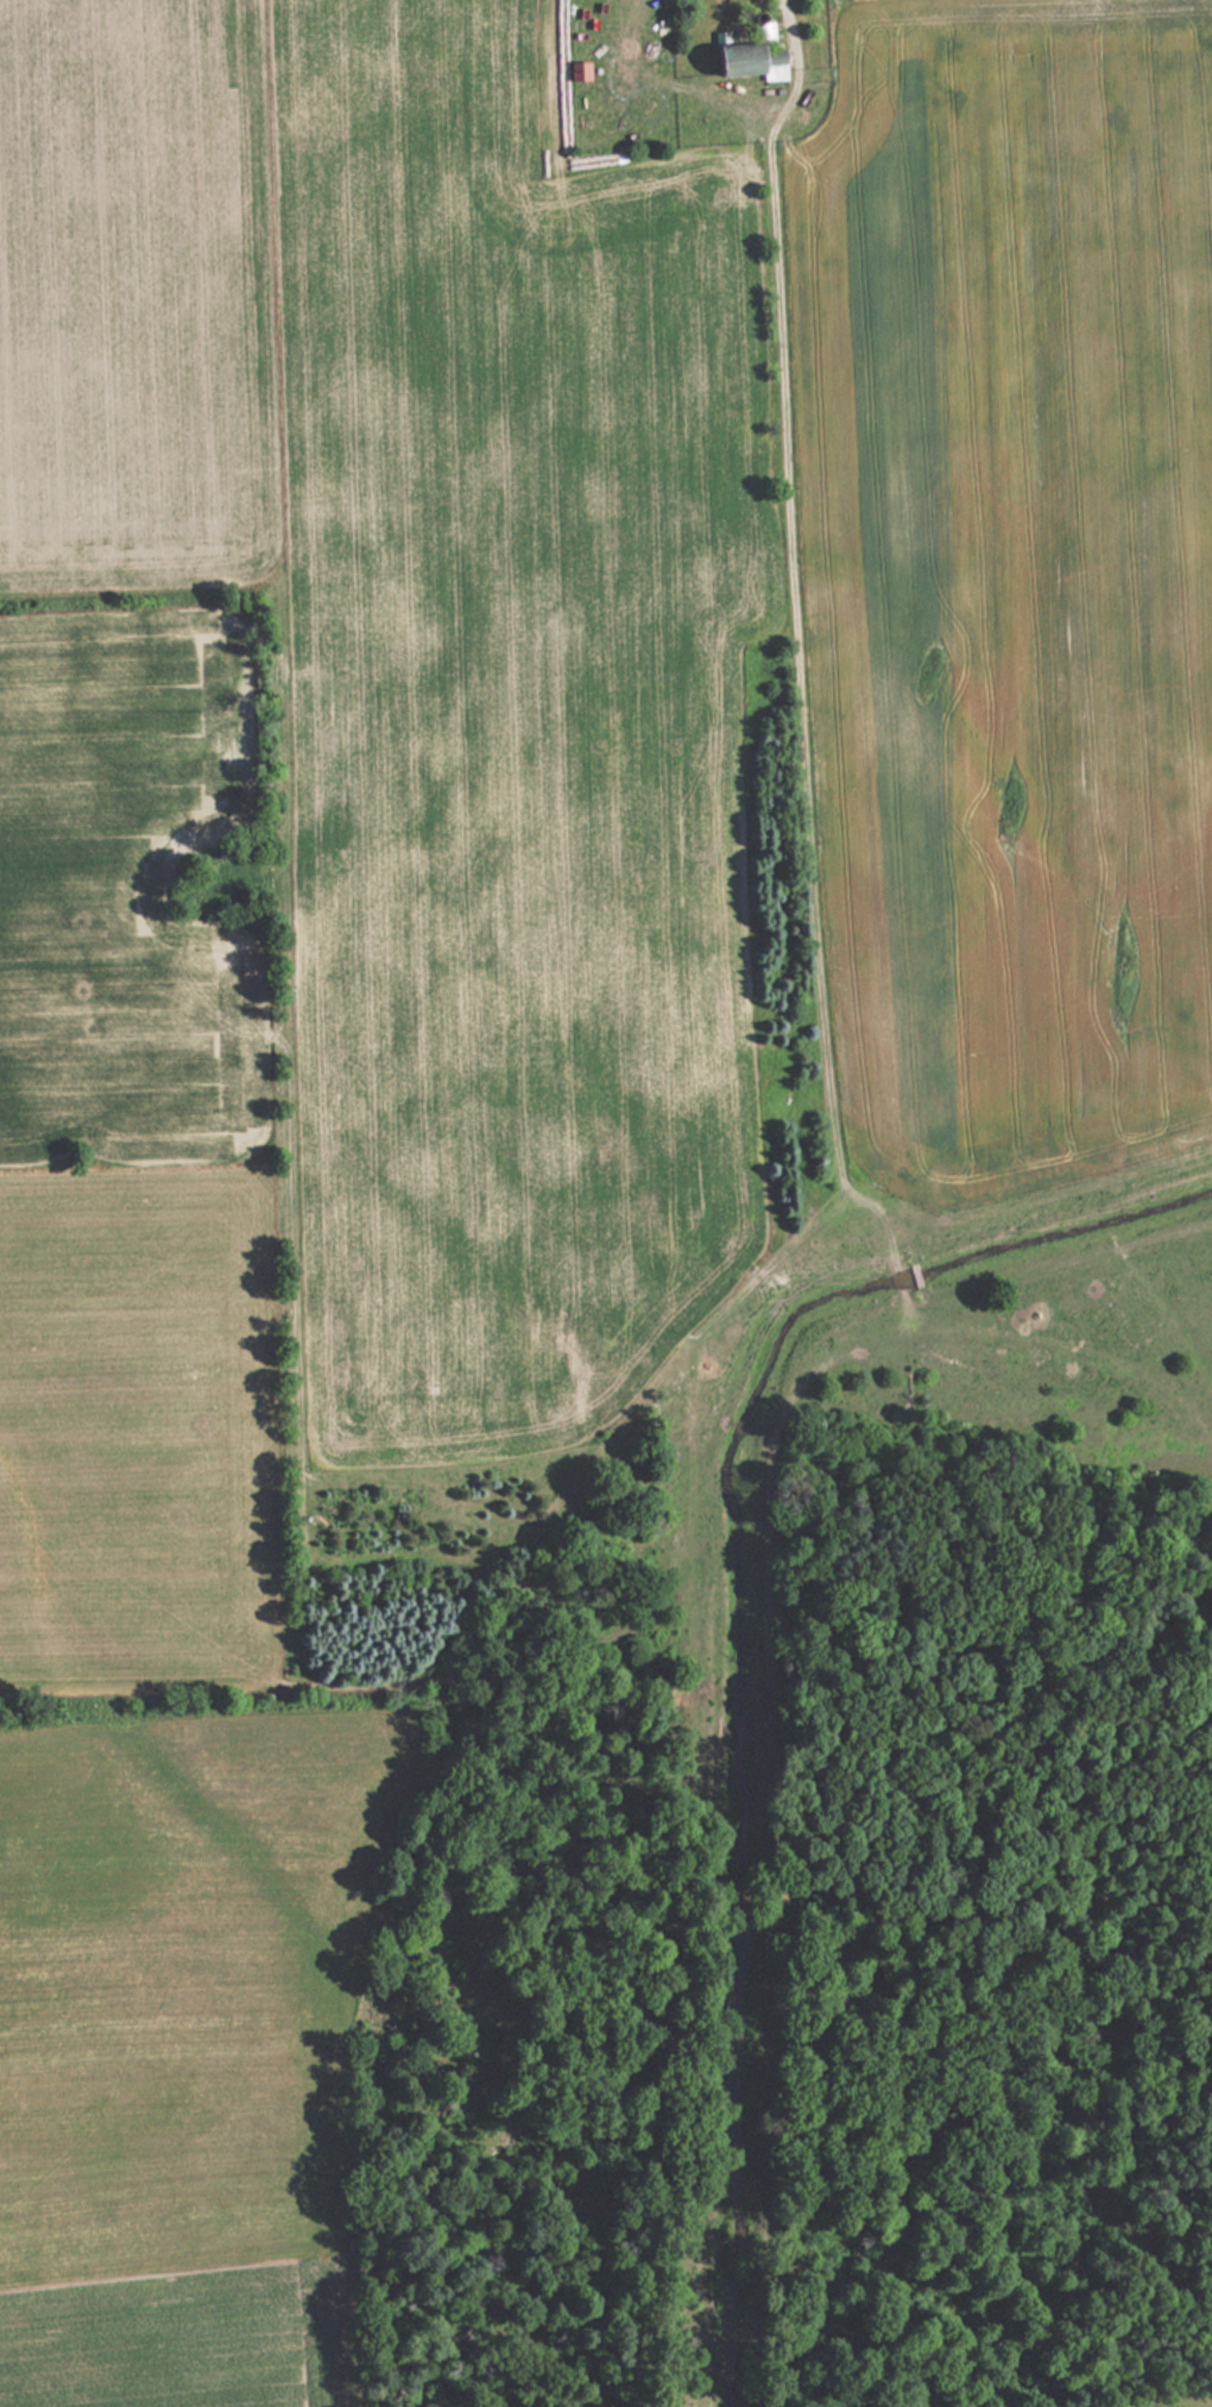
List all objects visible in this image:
building: (768, 29)
building: (751, 61)
building: (580, 70)

